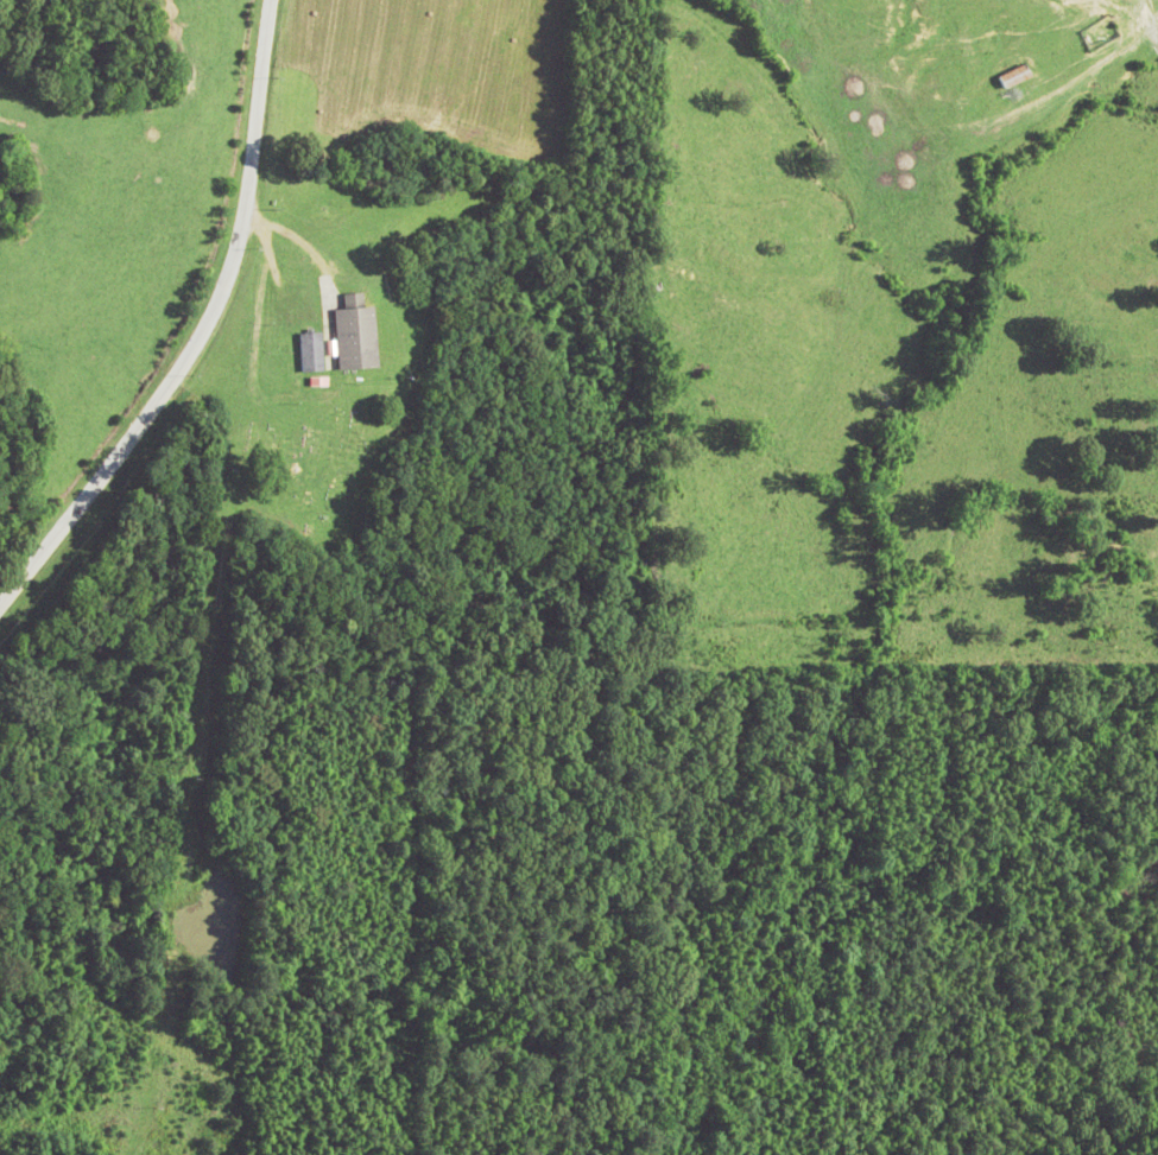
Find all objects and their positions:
building: (1013, 78)
road: (145, 262)
building: (355, 336)

